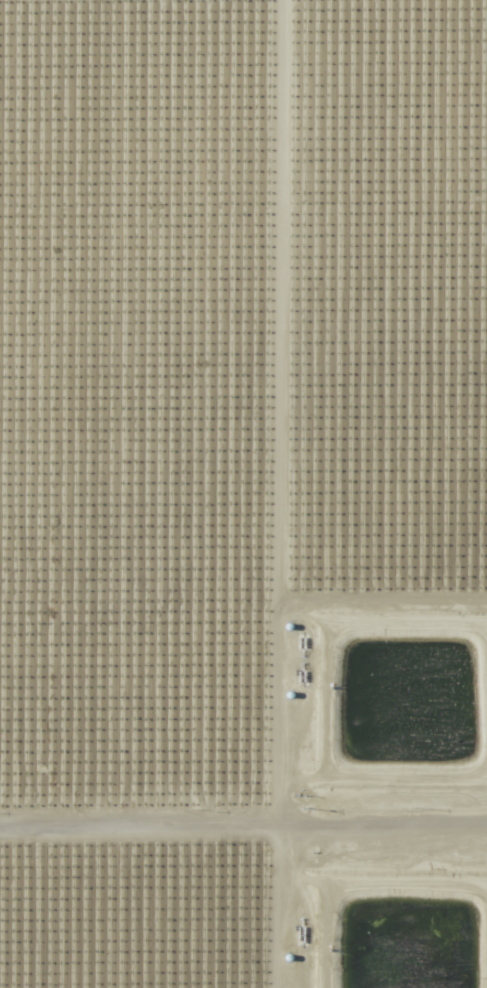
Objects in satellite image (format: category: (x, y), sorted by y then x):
road: (243, 833)

